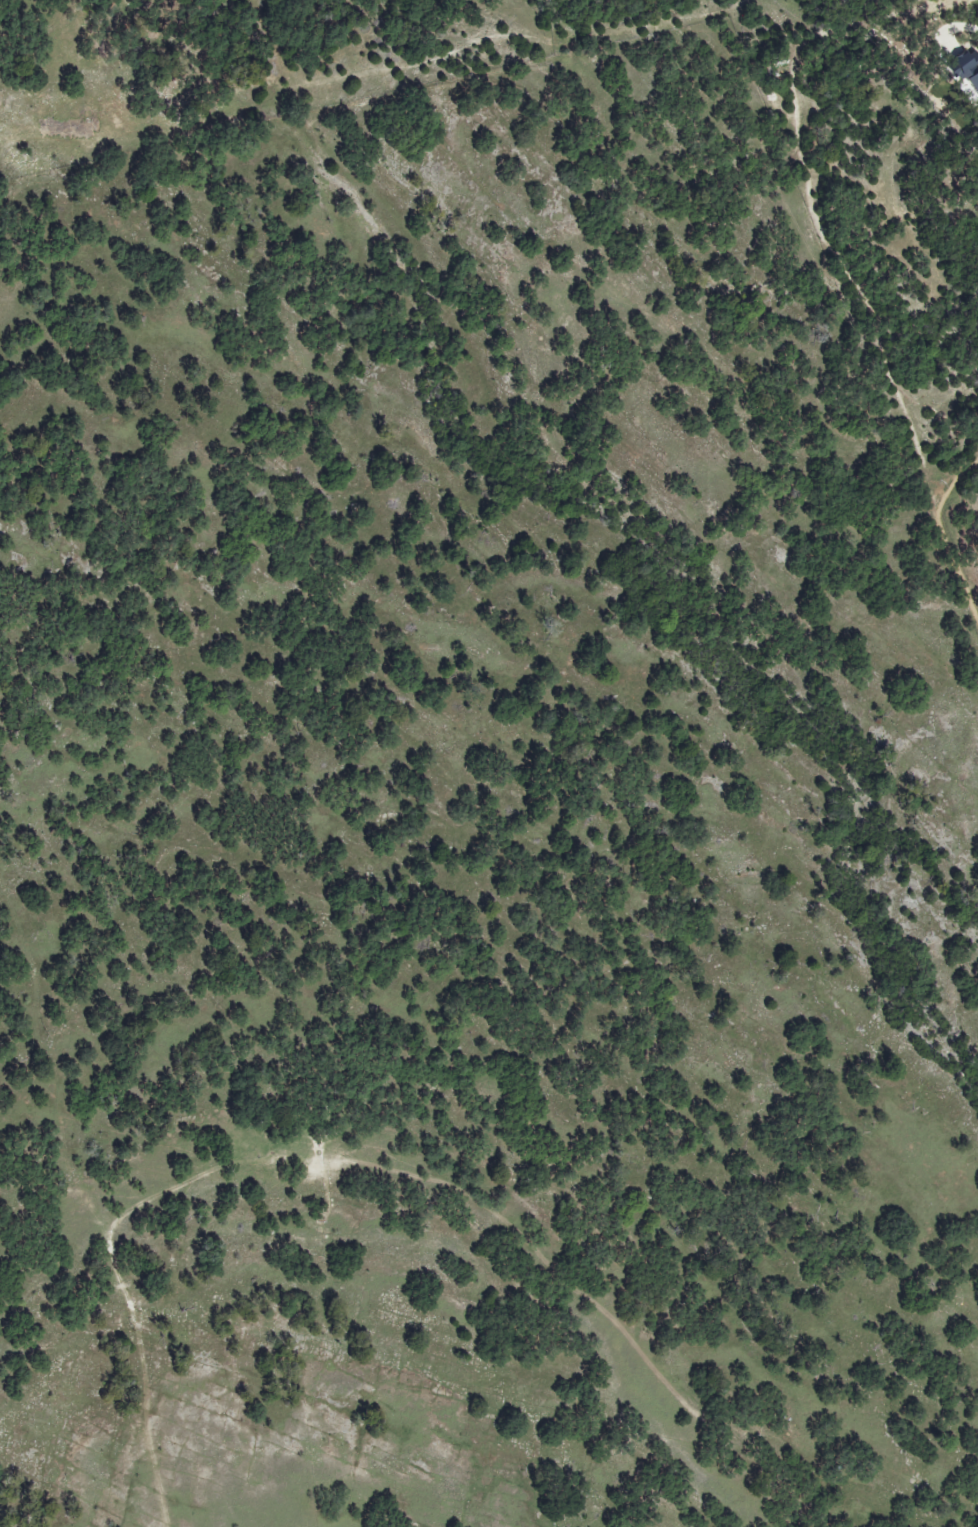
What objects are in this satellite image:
road: (952, 28)
building: (966, 68)

